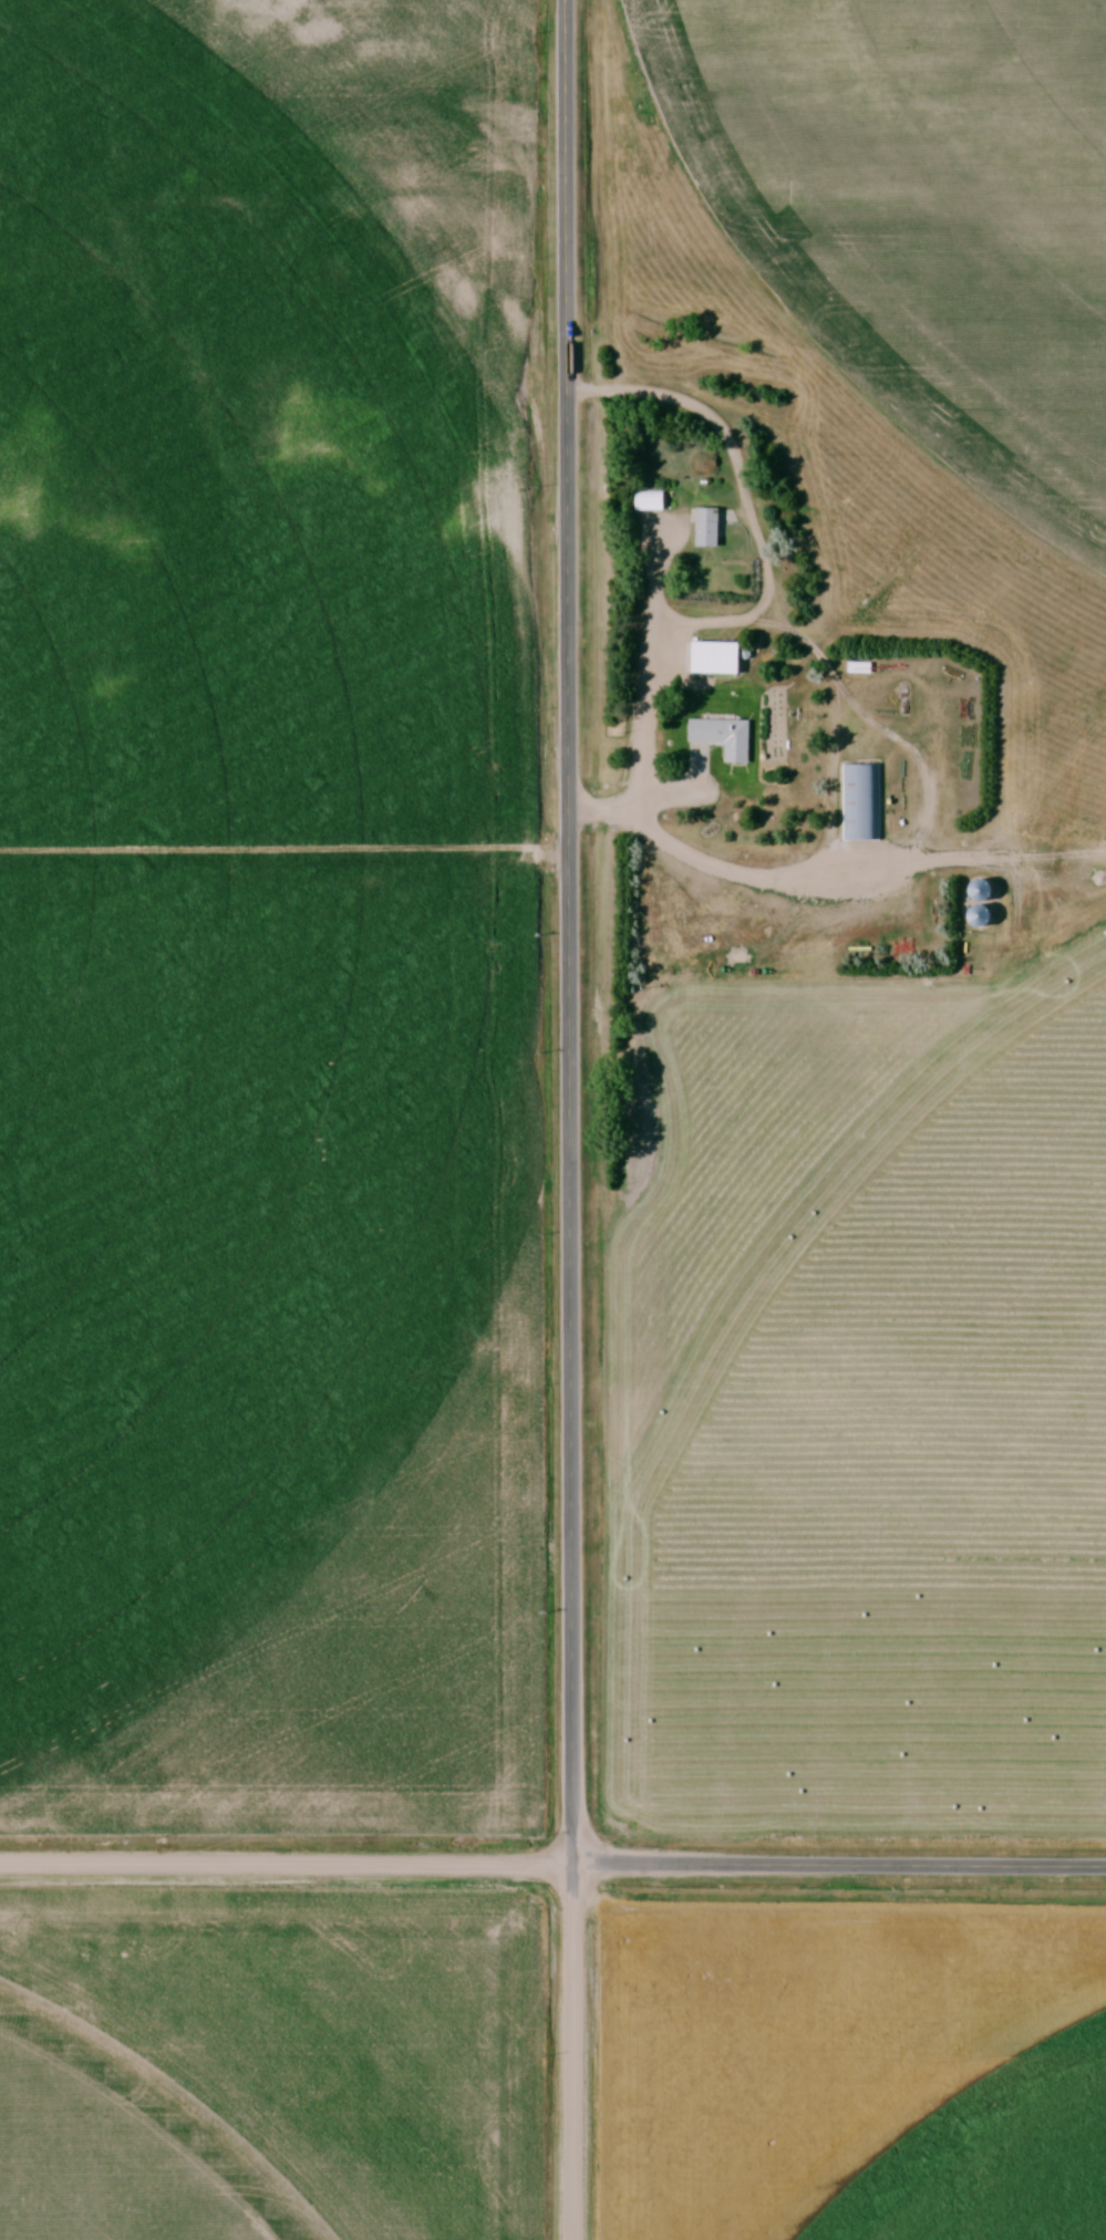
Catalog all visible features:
building: (655, 501)
building: (712, 528)
building: (721, 658)
road: (645, 699)
building: (727, 737)
building: (862, 802)
building: (981, 883)
silo: (981, 883)
building: (990, 892)
building: (981, 909)
silo: (981, 909)
building: (990, 916)
road: (572, 931)
road: (288, 1863)
road: (840, 1865)
road: (578, 2051)

